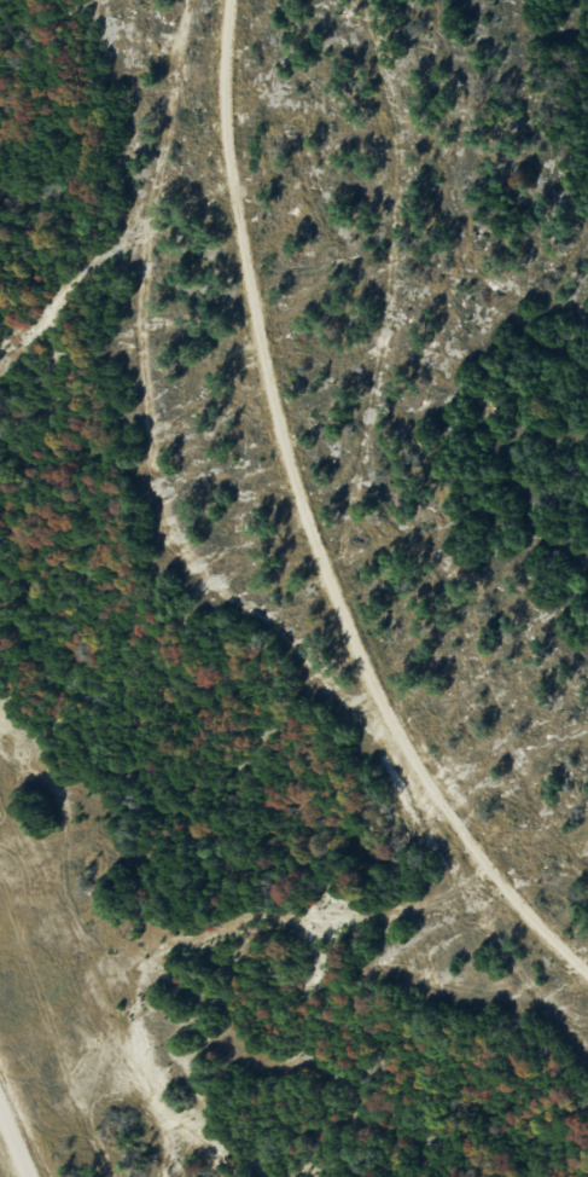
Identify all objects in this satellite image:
road: (17, 1135)

